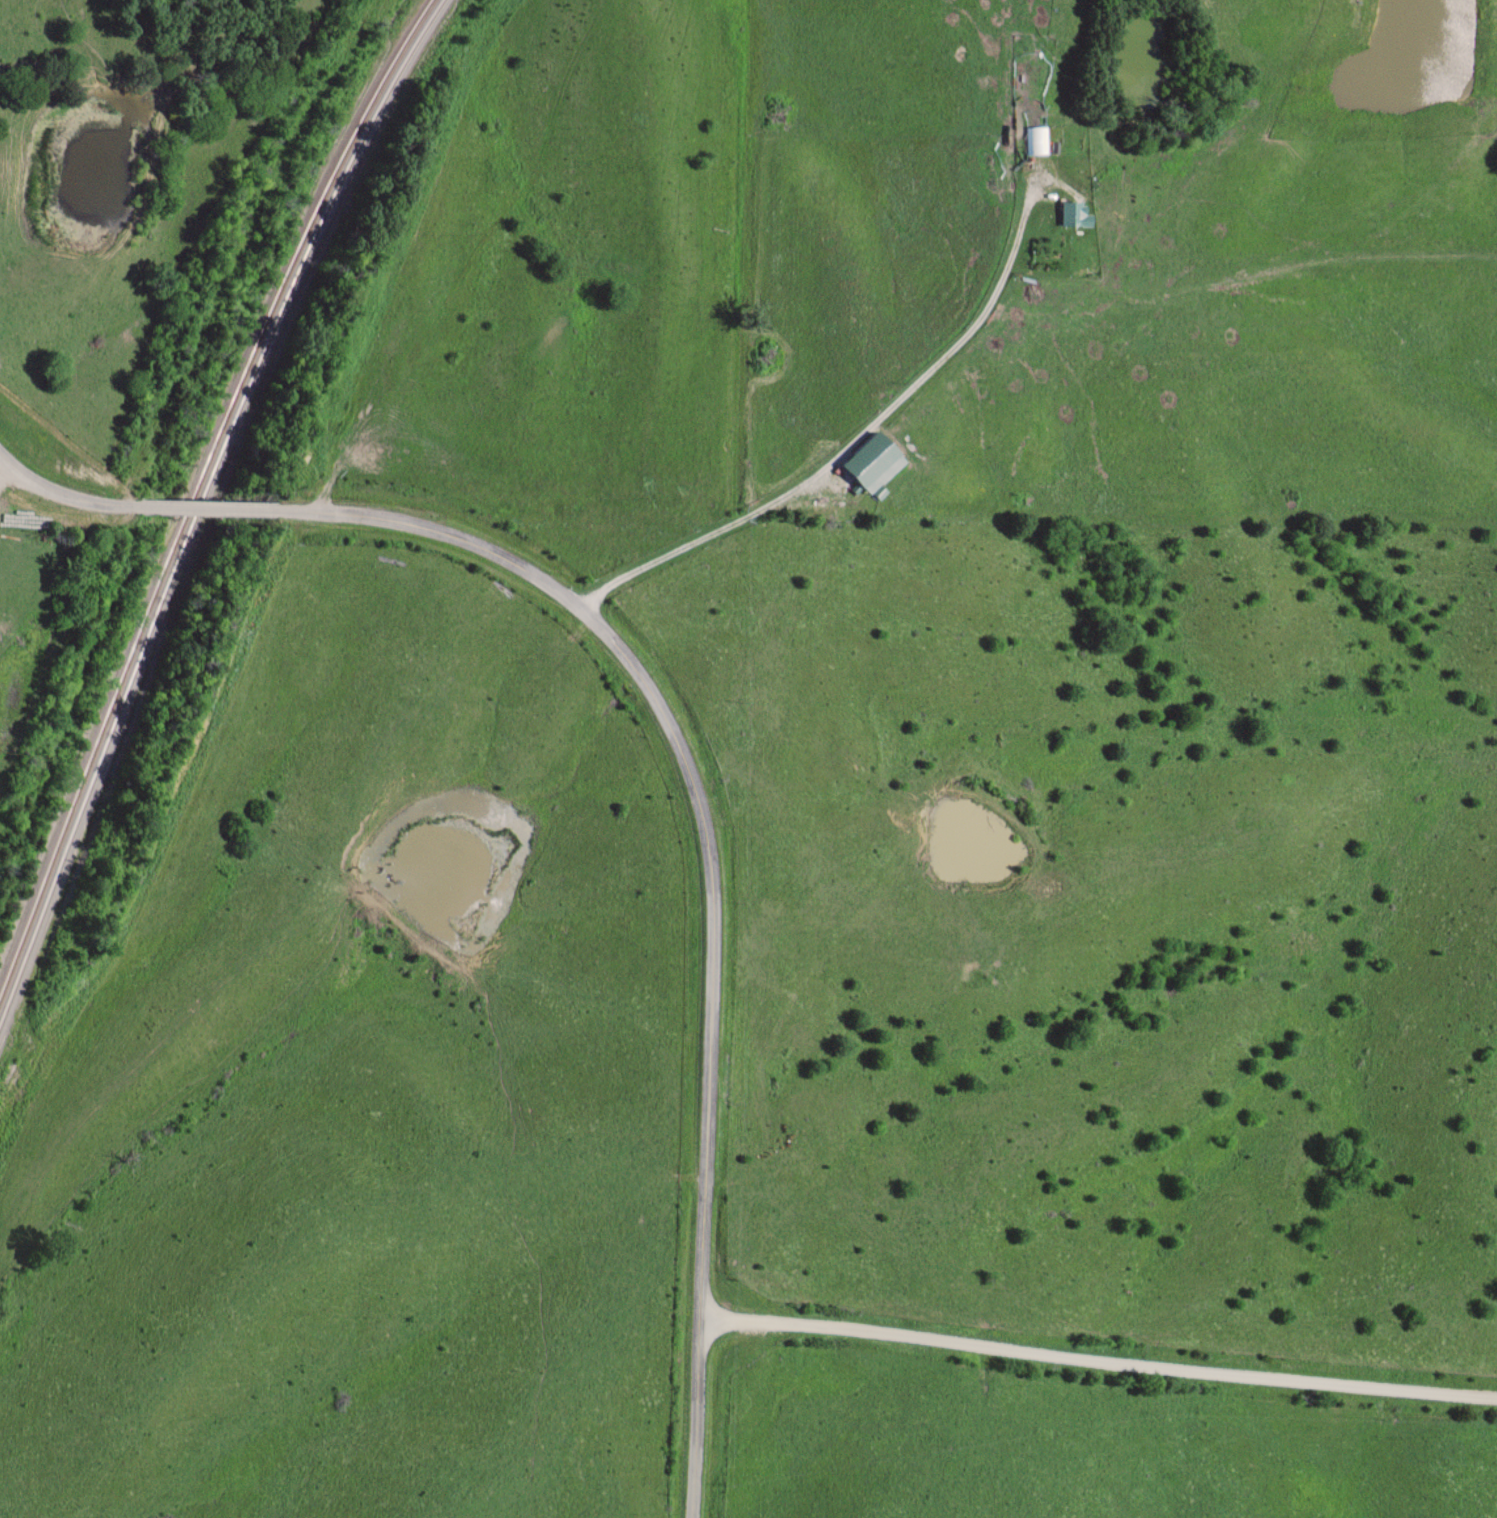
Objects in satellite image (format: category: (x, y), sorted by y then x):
building: (1034, 141)
building: (1068, 216)
railway: (204, 494)
road: (61, 496)
railway: (210, 507)
road: (205, 509)
road: (709, 880)
road: (1097, 1361)

